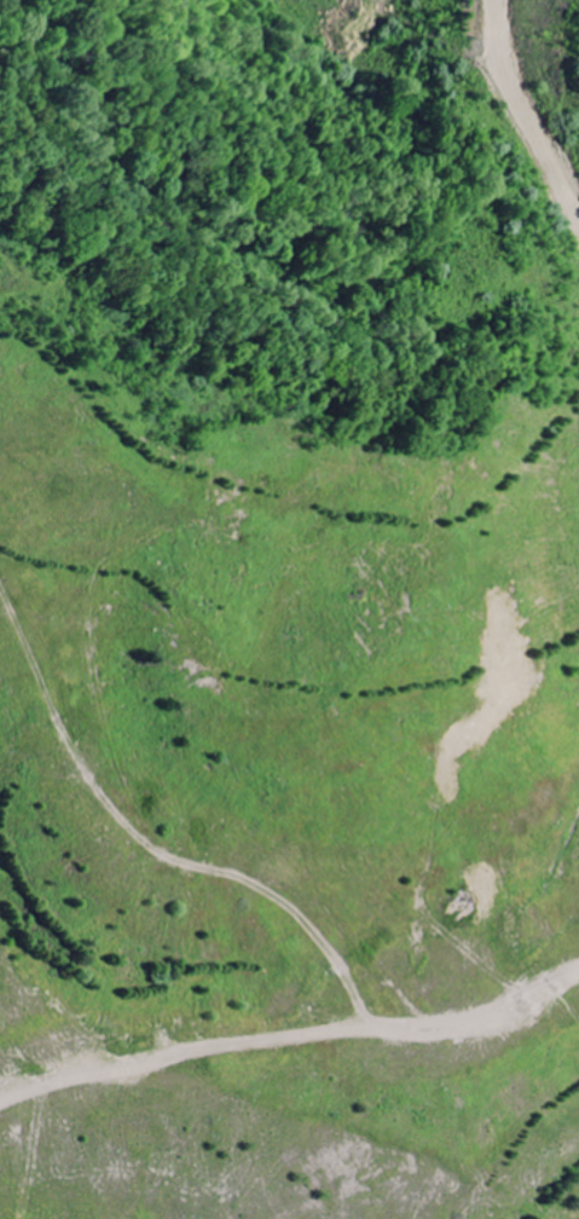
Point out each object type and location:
quarry: (296, 227)

